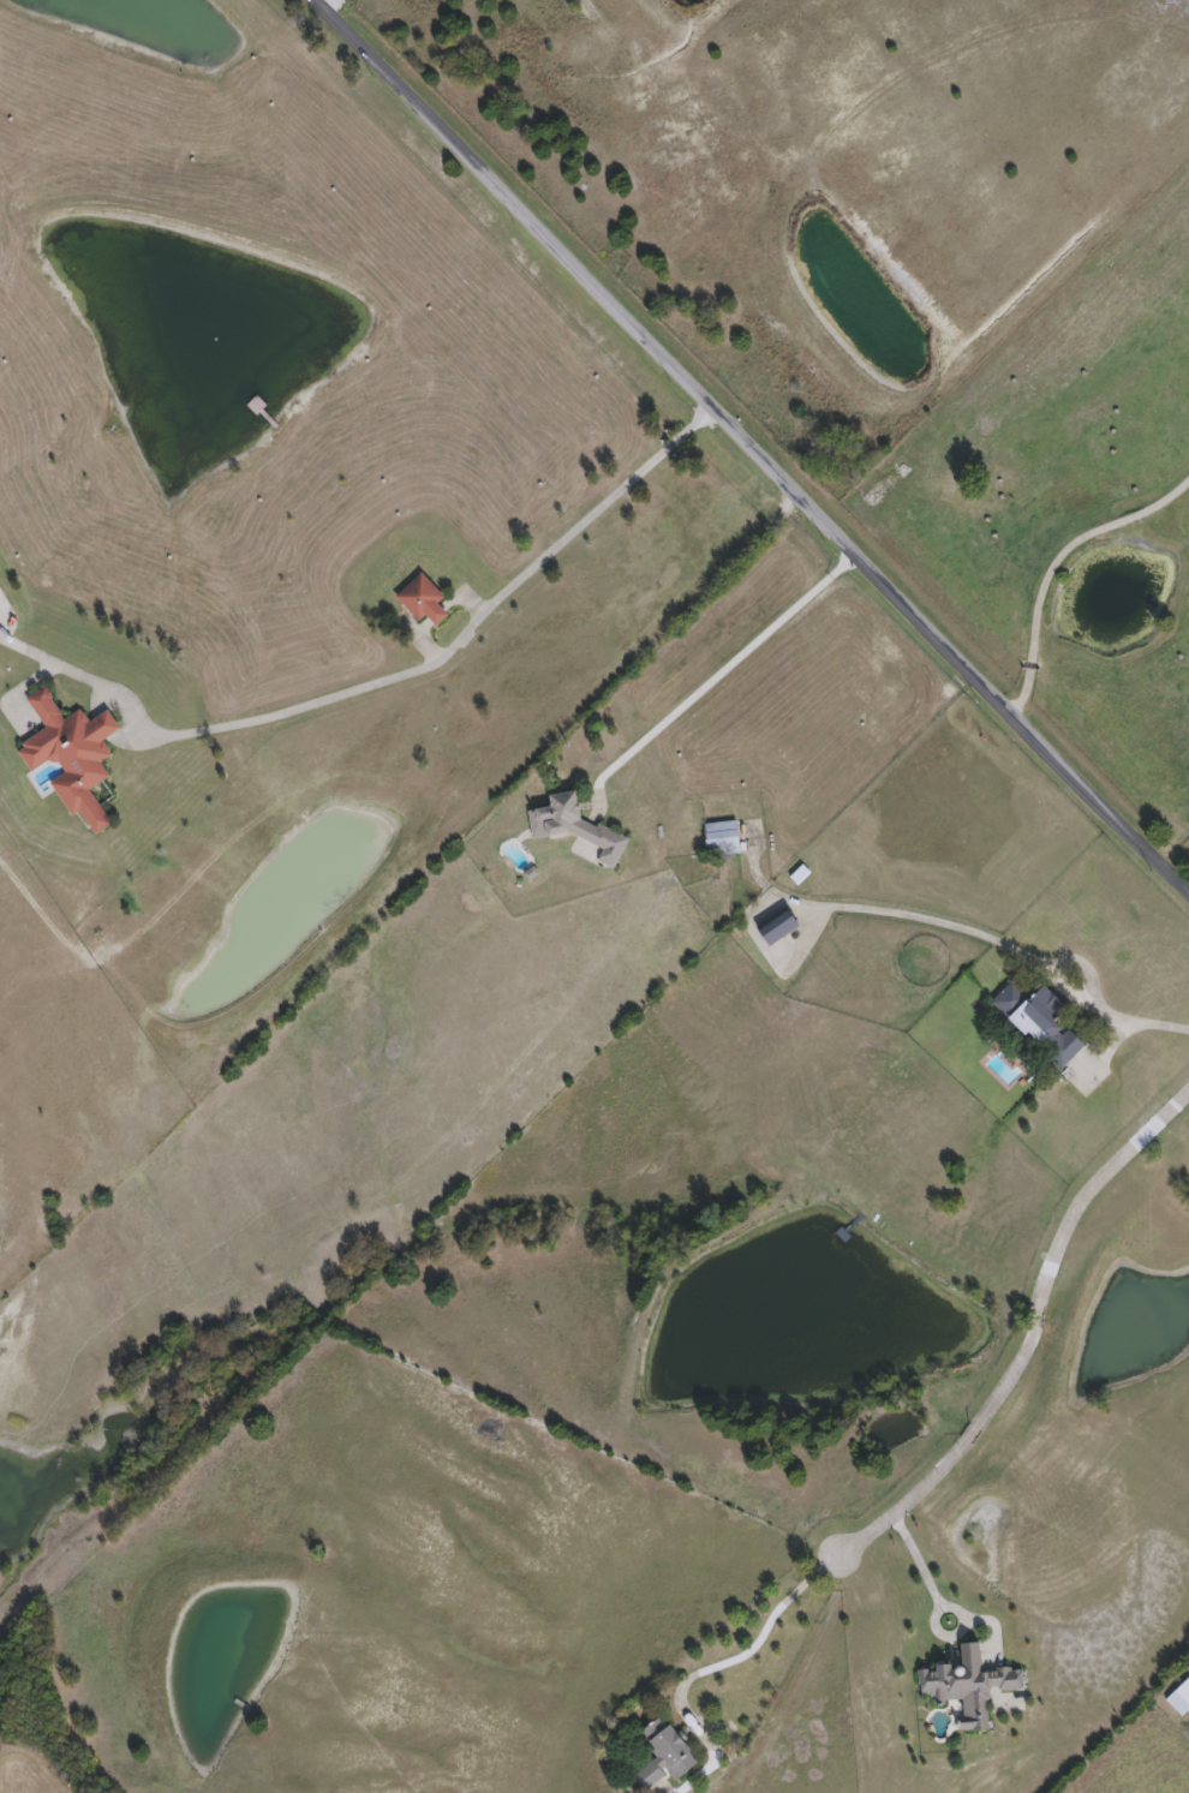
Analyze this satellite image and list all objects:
road: (322, 4)
road: (751, 443)
road: (1054, 563)
building: (424, 600)
road: (386, 673)
road: (719, 673)
building: (72, 757)
building: (576, 829)
building: (723, 839)
building: (797, 877)
building: (778, 927)
road: (988, 938)
building: (1041, 1023)
road: (1131, 1029)
road: (1027, 1322)
road: (921, 1565)
road: (751, 1648)
building: (969, 1687)
building: (1181, 1699)
building: (665, 1756)

